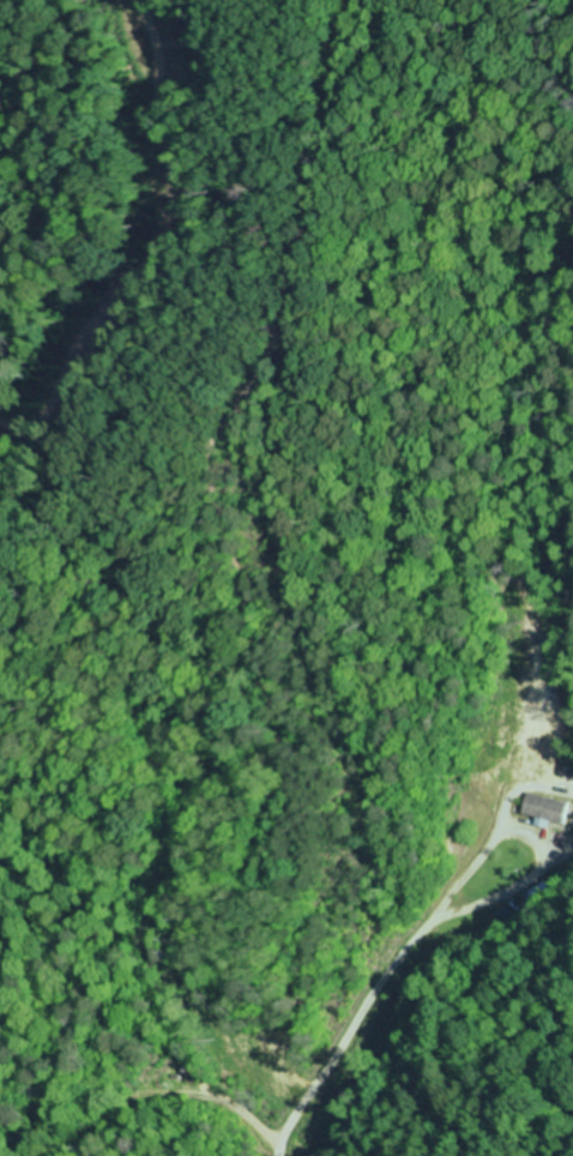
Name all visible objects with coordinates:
building: (550, 809)
building: (535, 897)
road: (364, 1014)

